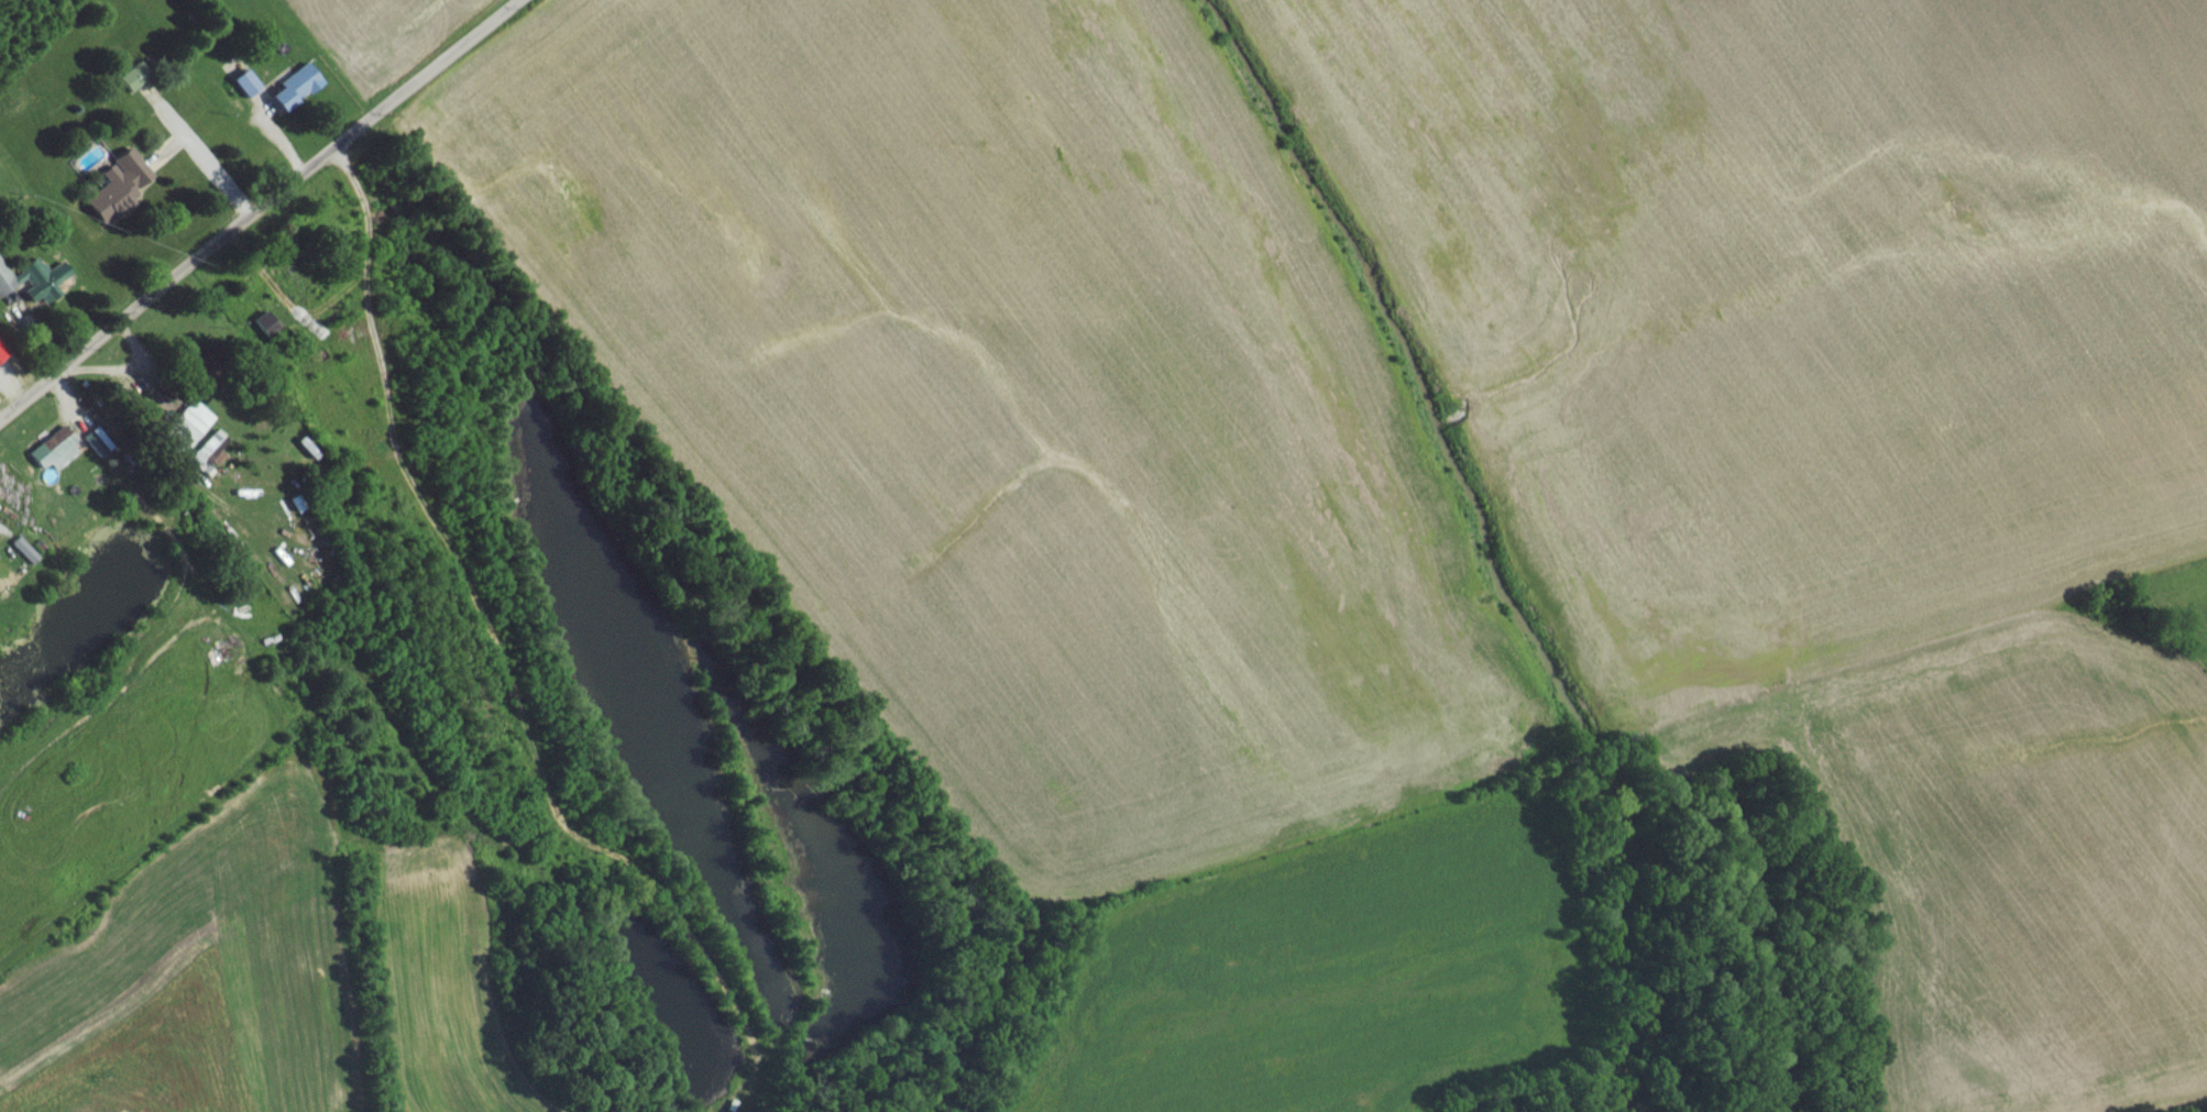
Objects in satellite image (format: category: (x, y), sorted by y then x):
building: (132, 82)
building: (242, 89)
building: (293, 93)
building: (120, 189)
road: (266, 214)
building: (33, 288)
building: (263, 331)
road: (20, 372)
building: (188, 430)
building: (50, 453)

